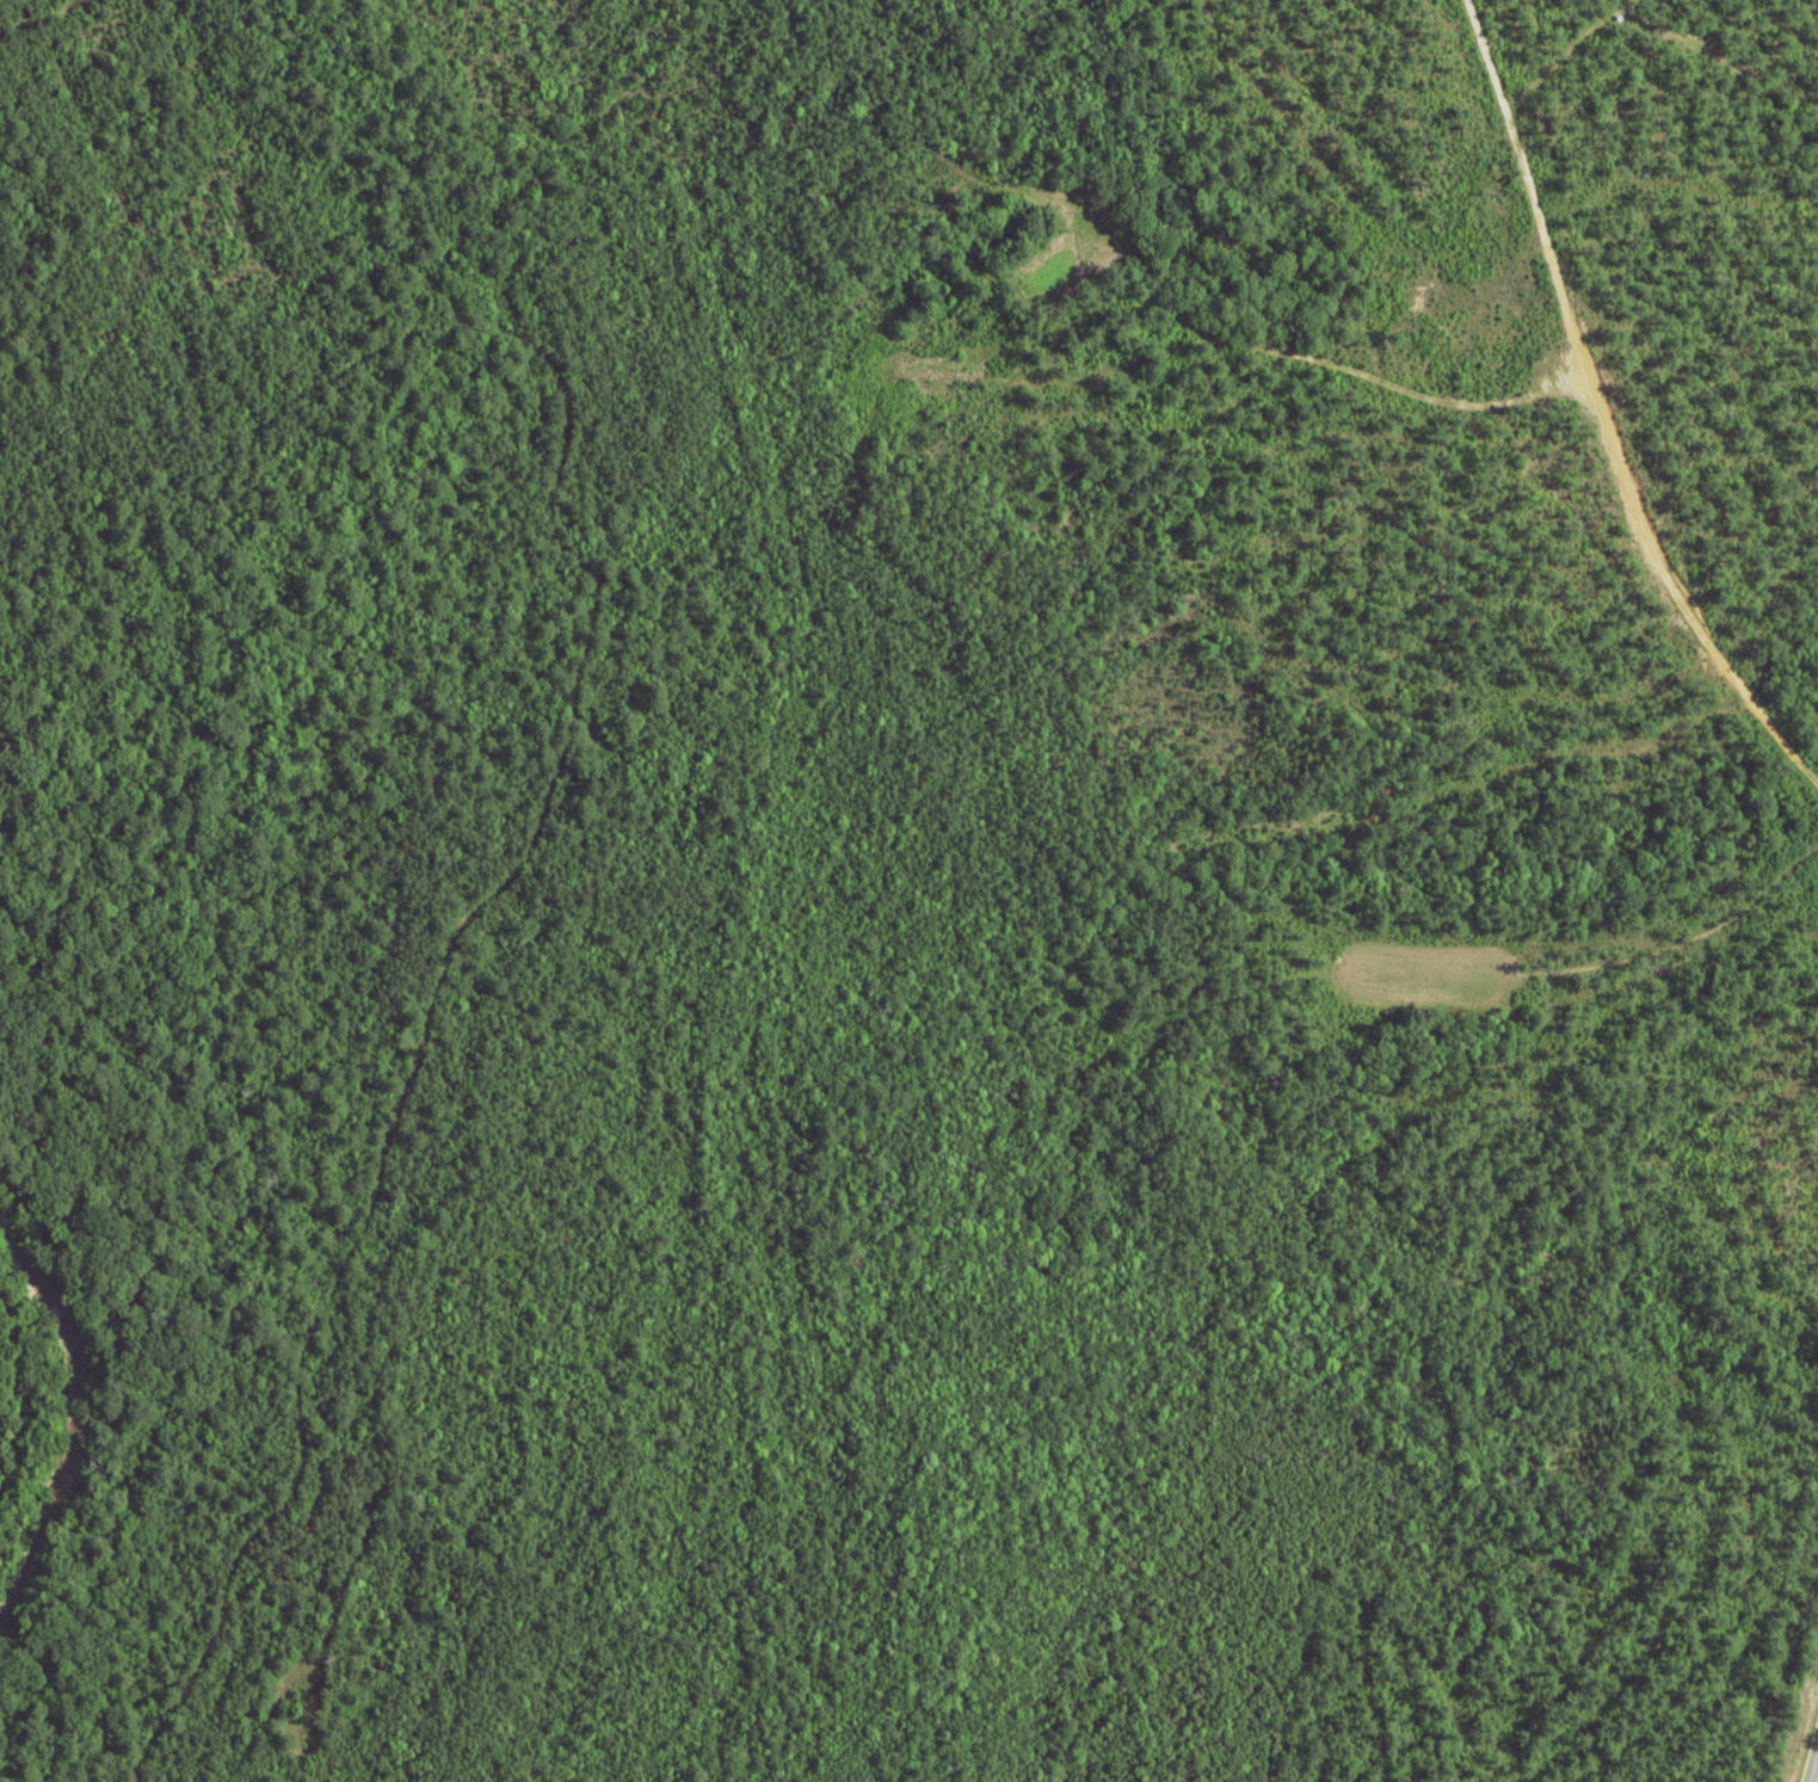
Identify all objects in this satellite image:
road: (1600, 407)
river: (76, 1408)
road: (1816, 1774)

